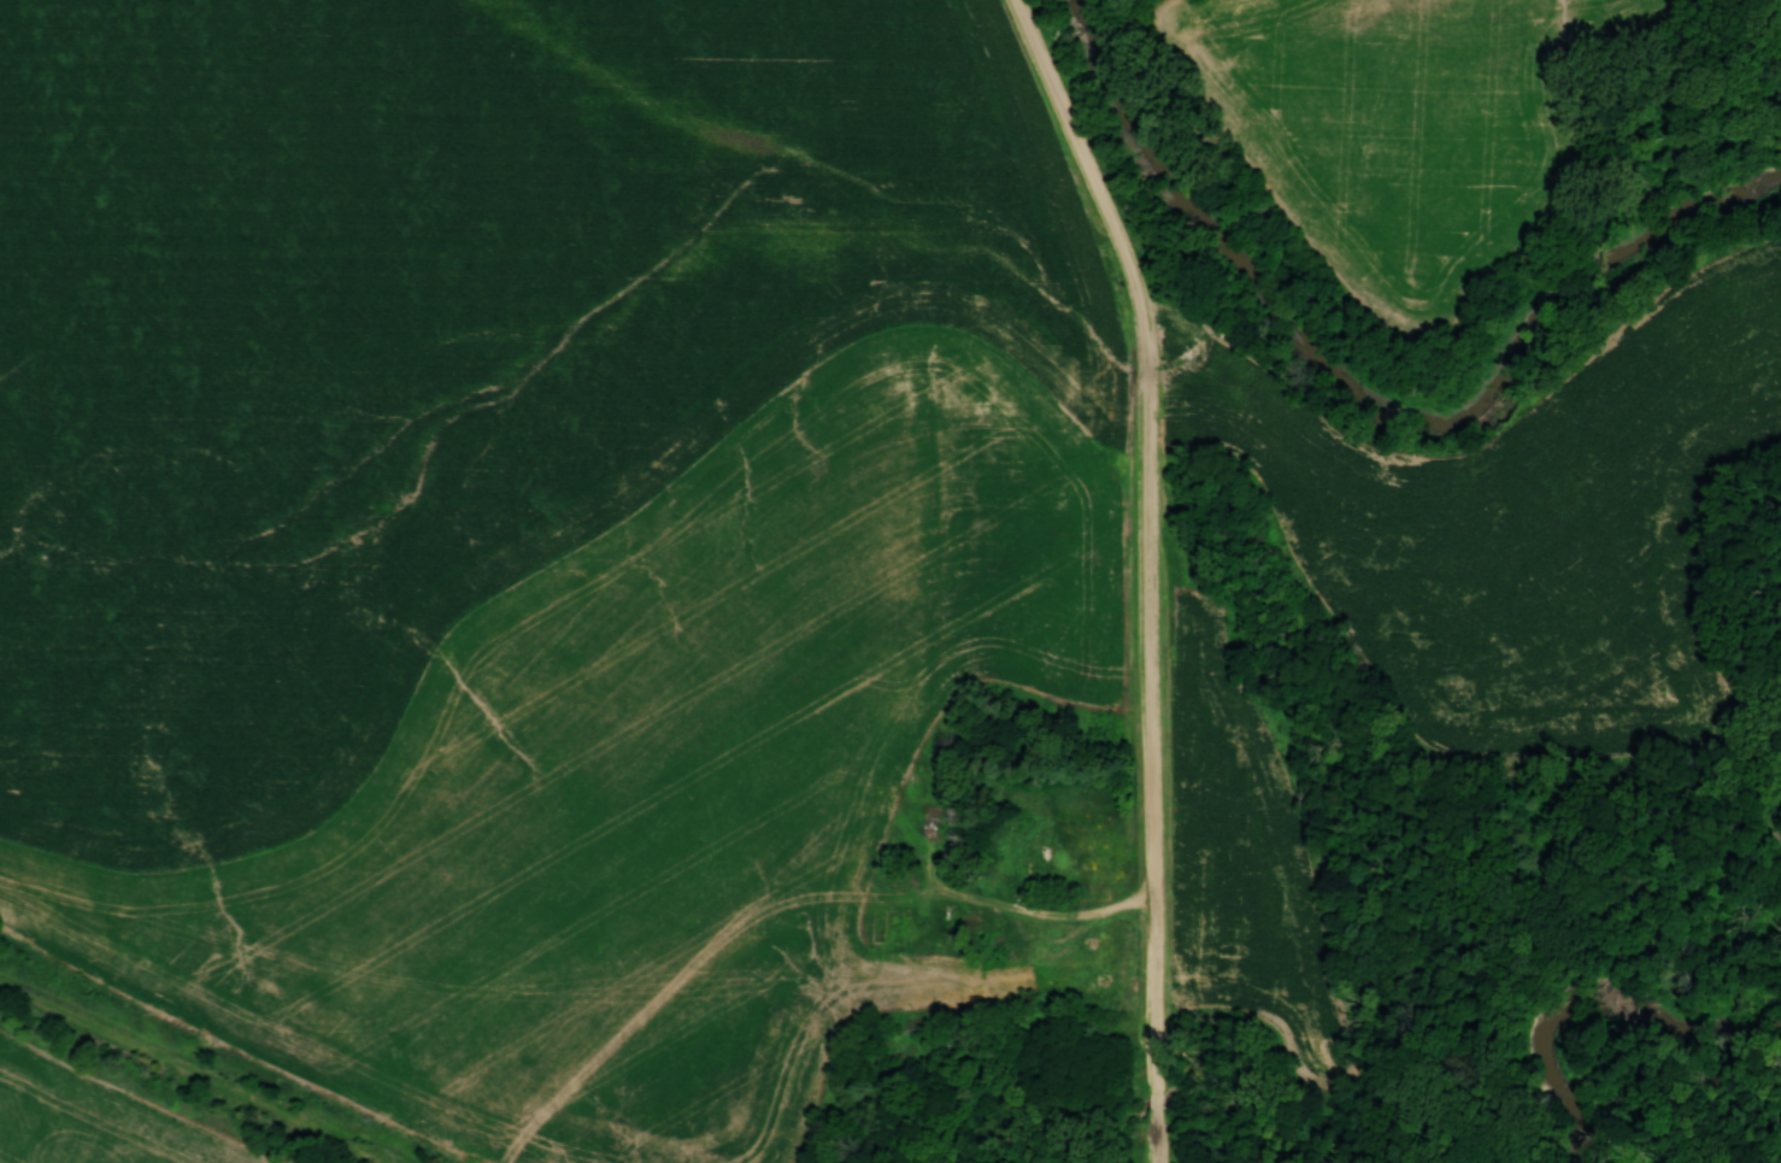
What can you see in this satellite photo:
road: (1150, 569)
road: (1022, 911)

